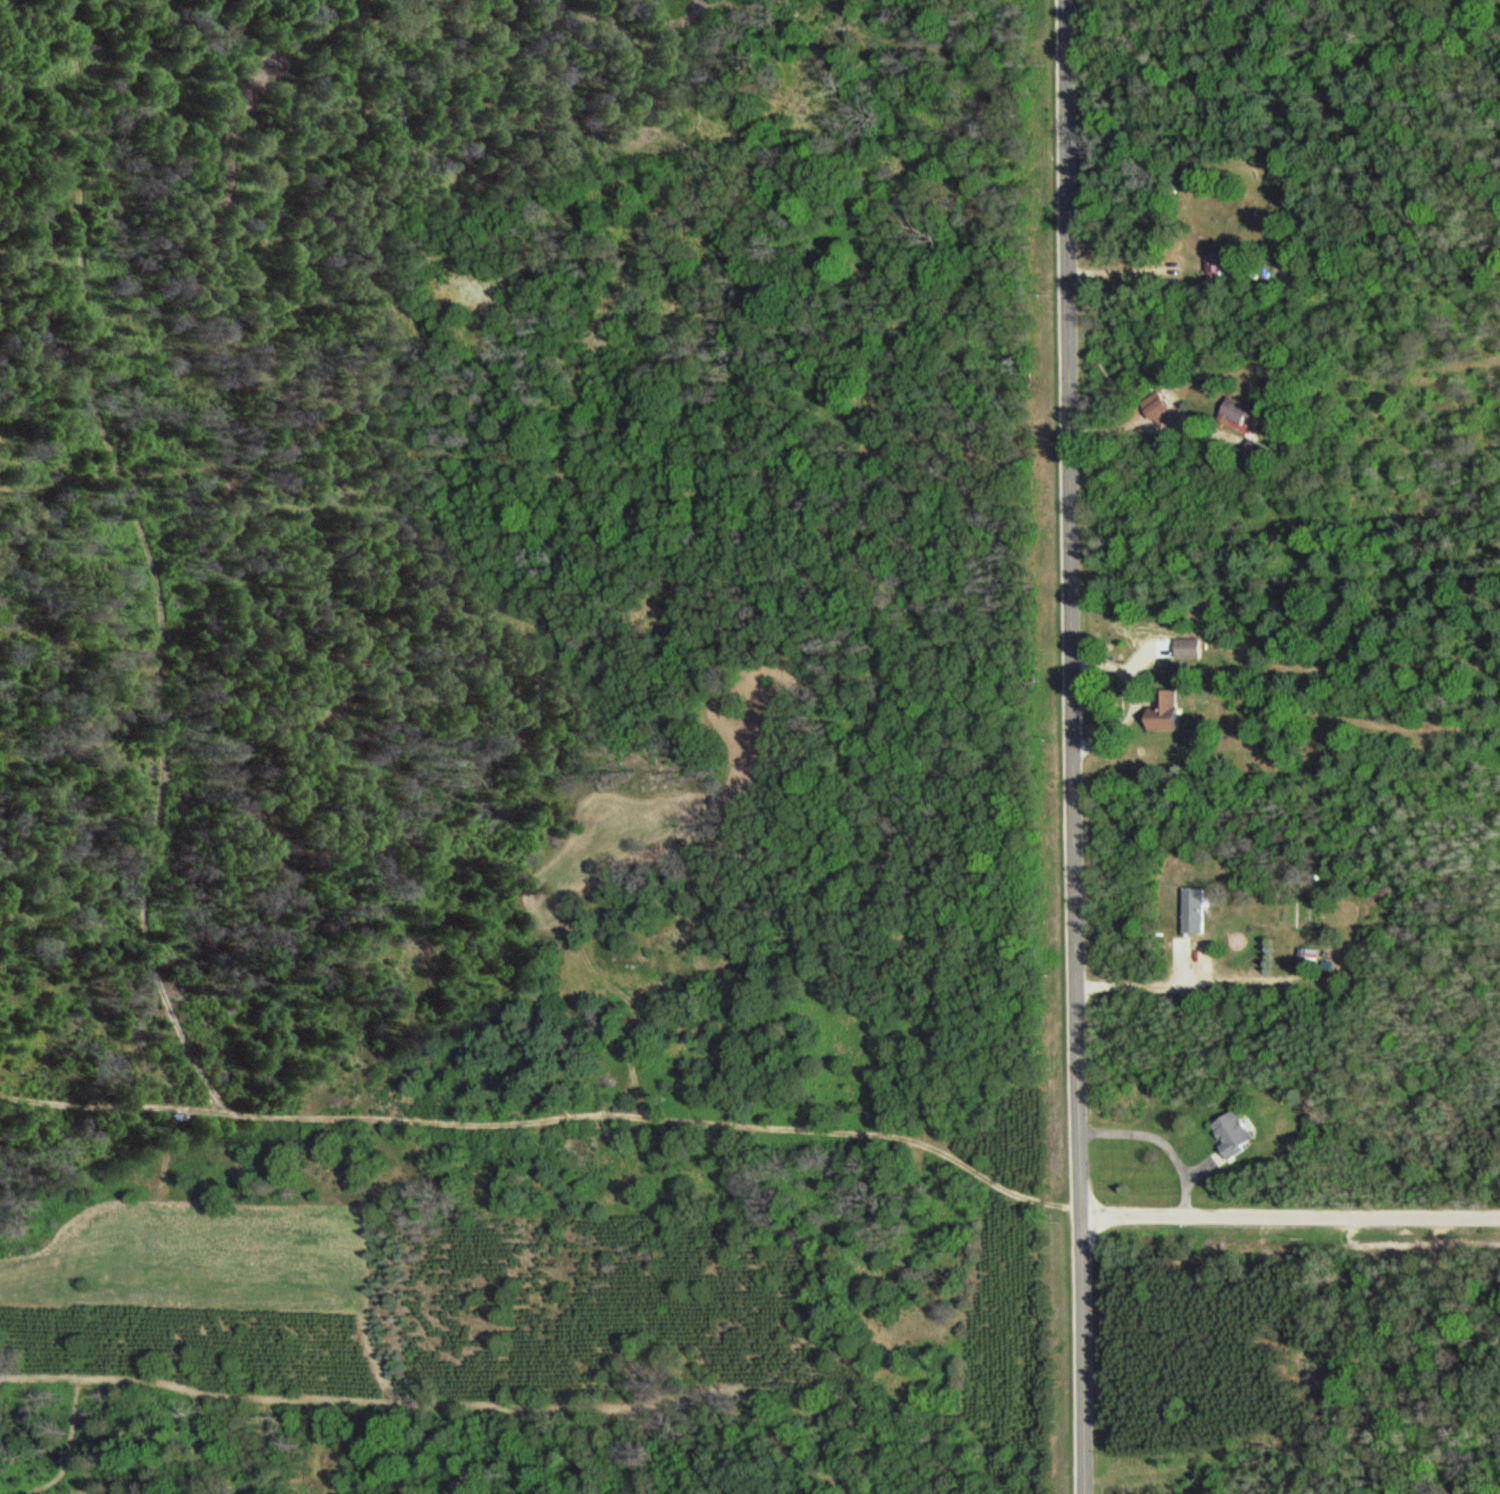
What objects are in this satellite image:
building: (1218, 263)
building: (1243, 412)
road: (1142, 430)
building: (1263, 452)
building: (1188, 647)
building: (1169, 710)
road: (1074, 746)
building: (1199, 910)
building: (1311, 956)
road: (1190, 985)
building: (1237, 1132)
road: (1291, 1219)

